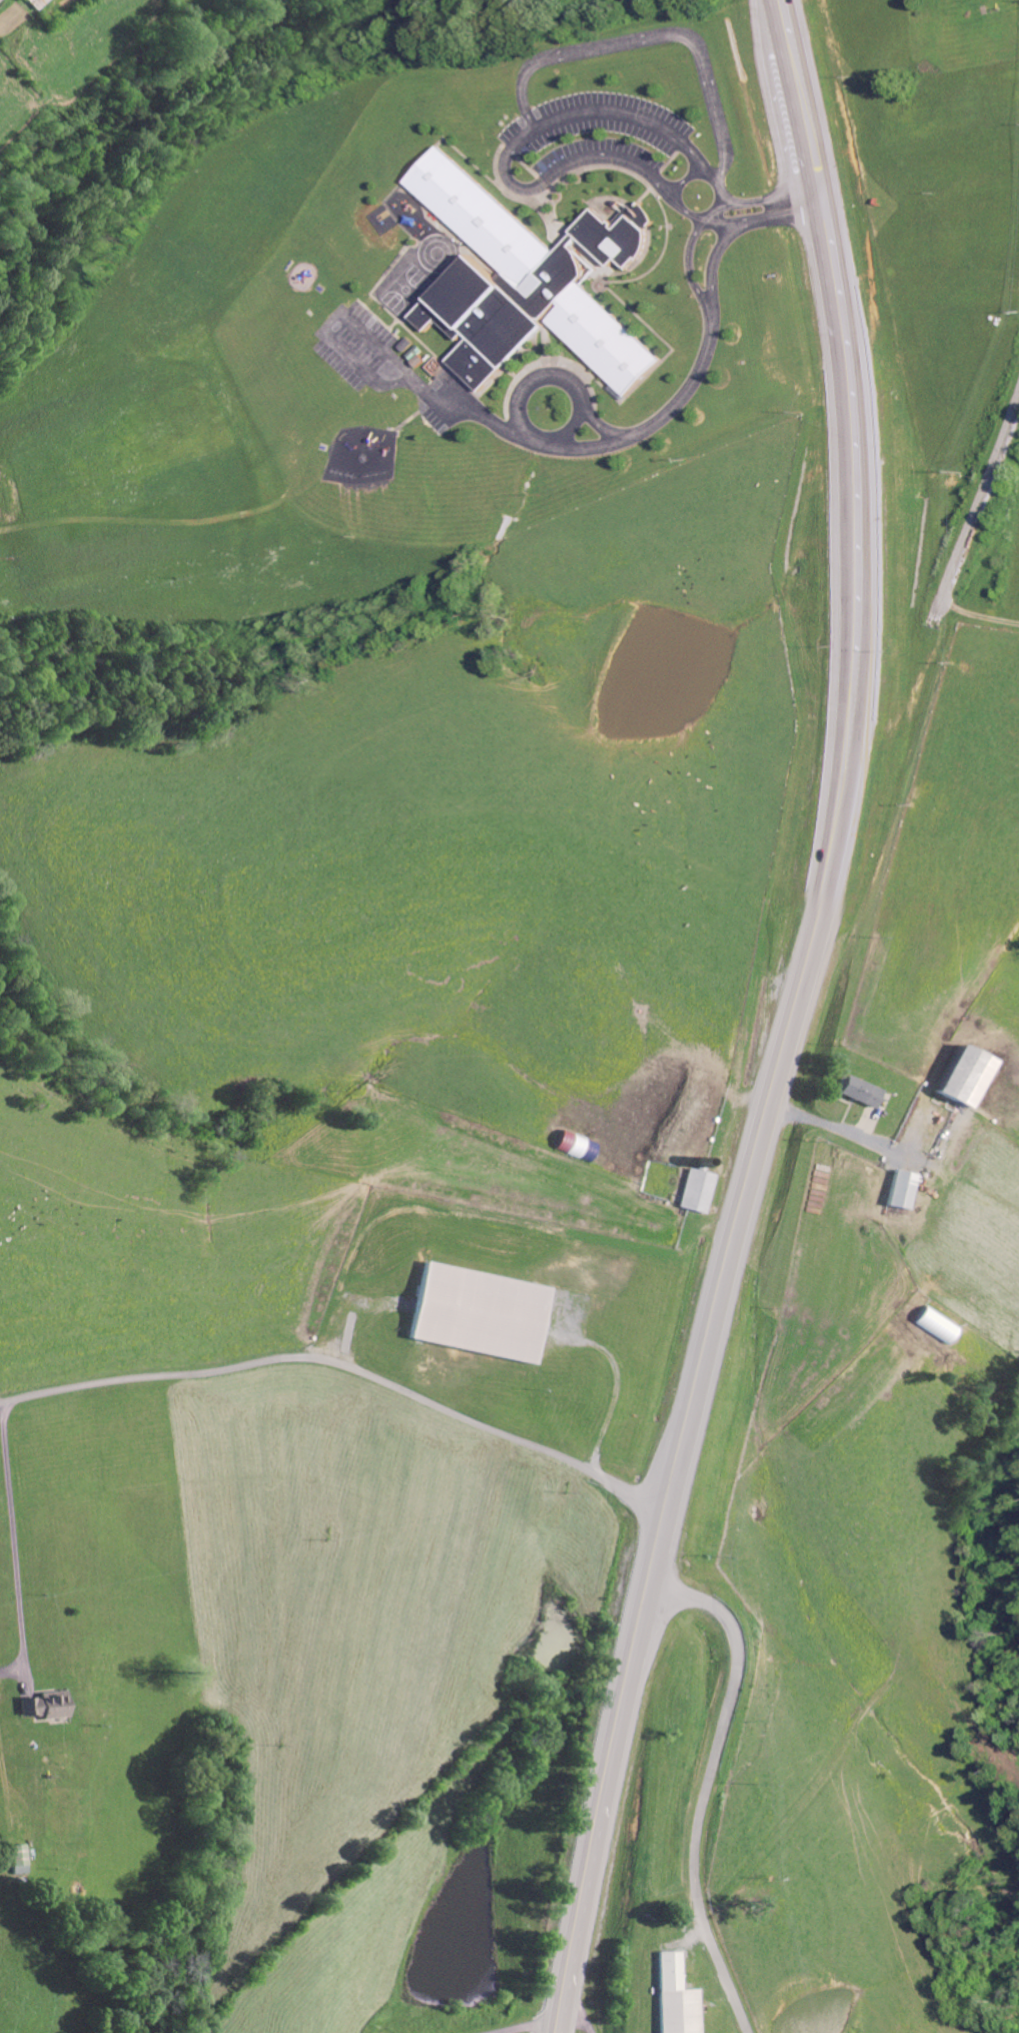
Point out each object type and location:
building: (34, 3)
building: (611, 234)
building: (515, 288)
road: (978, 499)
road: (980, 612)
road: (789, 1023)
building: (961, 1076)
building: (856, 1090)
building: (574, 1145)
building: (901, 1189)
building: (697, 1191)
building: (476, 1313)
building: (937, 1324)
road: (344, 1368)
road: (27, 1453)
building: (45, 1706)
road: (706, 1784)
building: (17, 1860)
building: (674, 1997)

